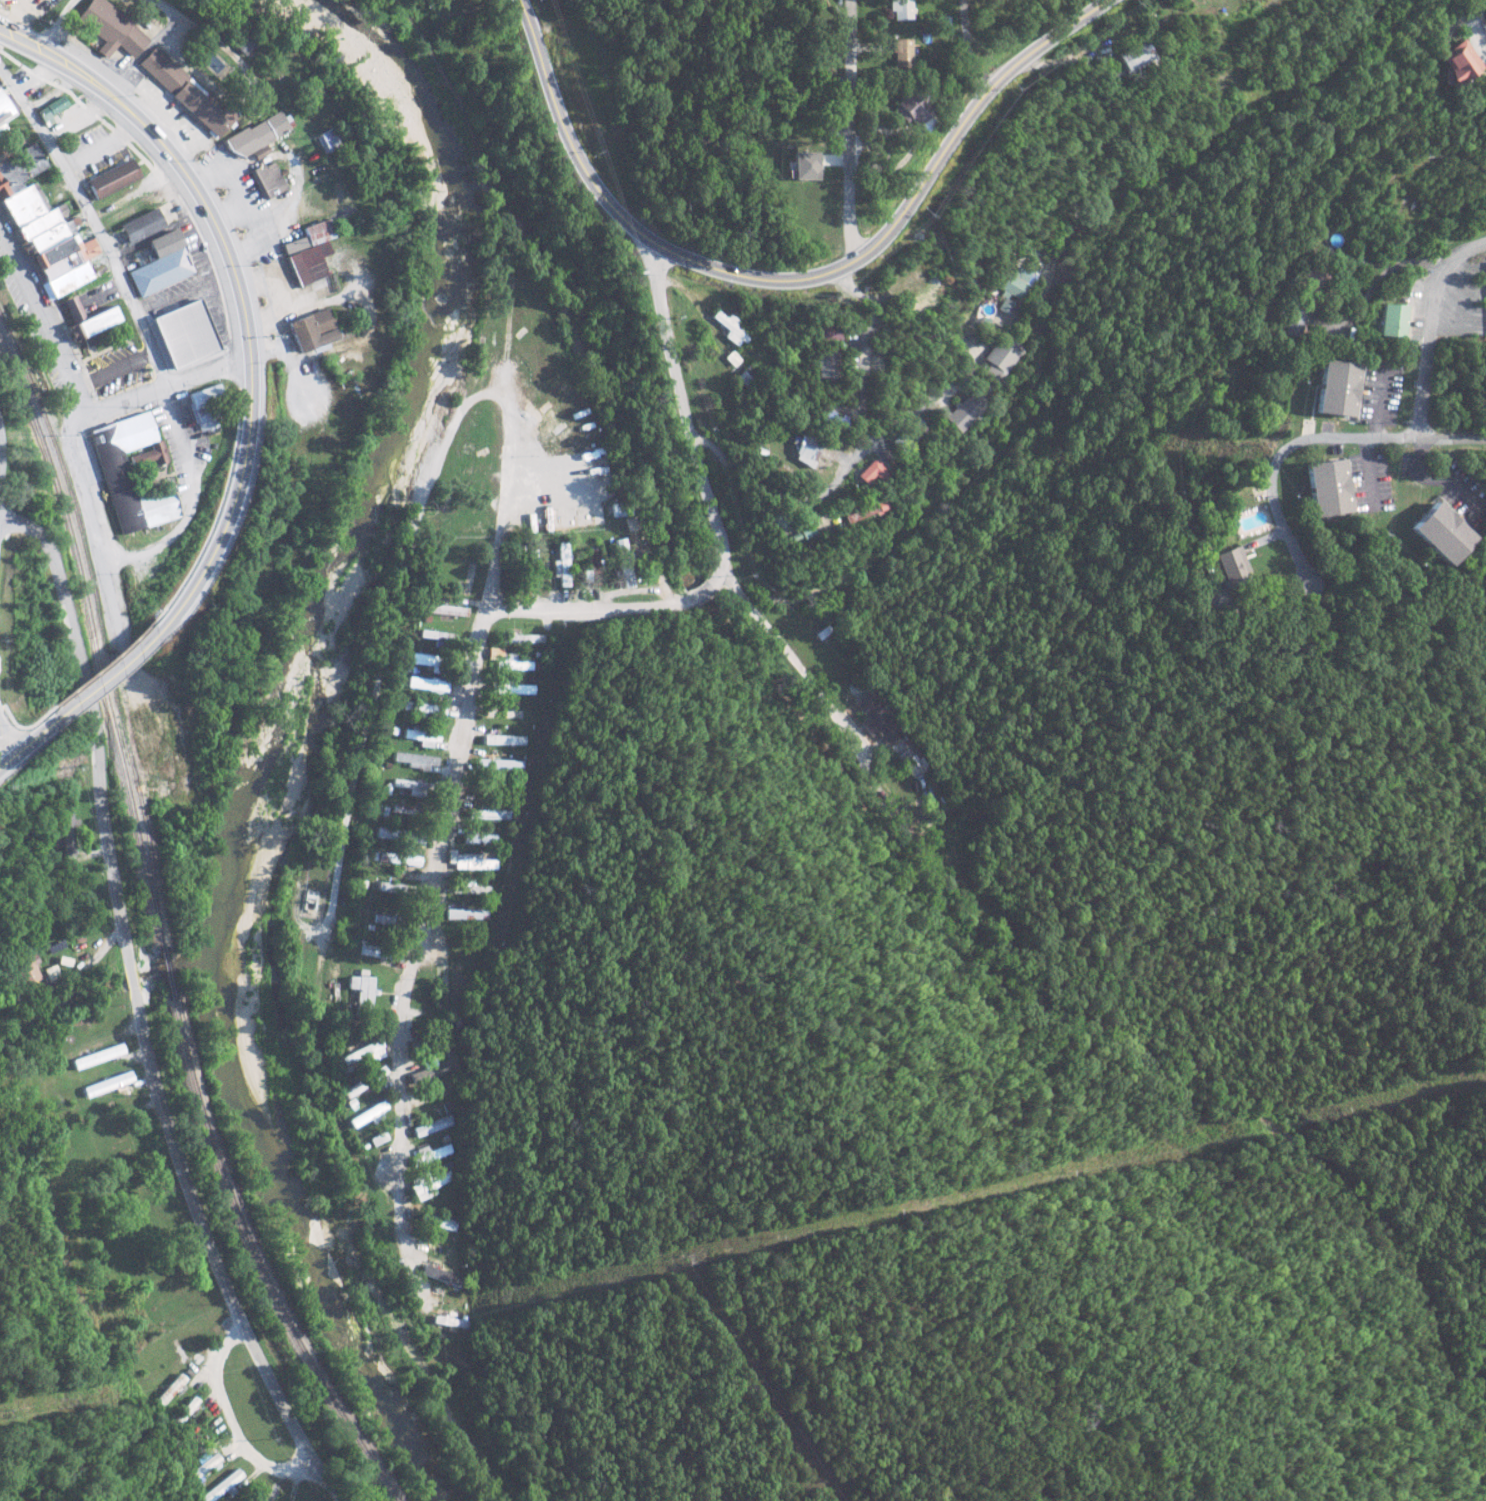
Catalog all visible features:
building: (902, 9)
road: (1474, 16)
building: (109, 27)
building: (242, 44)
road: (970, 45)
building: (902, 53)
building: (1133, 56)
building: (1459, 60)
building: (184, 92)
building: (7, 106)
building: (51, 107)
building: (912, 107)
road: (126, 129)
road: (853, 131)
building: (255, 135)
building: (327, 139)
road: (91, 152)
parking lot: (93, 154)
building: (806, 164)
building: (110, 179)
building: (267, 179)
building: (41, 218)
road: (96, 226)
building: (141, 226)
building: (165, 241)
building: (308, 252)
building: (142, 255)
building: (159, 272)
building: (1311, 277)
road: (791, 280)
building: (1015, 281)
road: (238, 290)
road: (42, 313)
building: (86, 317)
building: (1393, 319)
building: (1292, 322)
building: (731, 327)
road: (1431, 327)
building: (312, 329)
building: (828, 331)
building: (185, 333)
building: (994, 359)
building: (826, 363)
parking lot: (115, 368)
road: (114, 369)
road: (161, 387)
building: (1338, 387)
road: (1378, 403)
building: (204, 406)
building: (960, 411)
road: (4, 425)
road: (1313, 436)
road: (185, 438)
building: (900, 441)
building: (805, 451)
road: (1368, 469)
building: (867, 472)
building: (111, 476)
road: (9, 478)
building: (1329, 487)
road: (510, 495)
building: (620, 509)
building: (861, 511)
building: (772, 518)
building: (1443, 532)
road: (165, 539)
road: (93, 542)
building: (623, 562)
building: (1232, 564)
building: (560, 565)
building: (590, 567)
road: (388, 636)
building: (438, 638)
building: (521, 638)
railway: (95, 641)
road: (788, 654)
road: (474, 658)
building: (425, 660)
building: (506, 660)
road: (104, 676)
building: (428, 685)
building: (511, 688)
building: (424, 710)
river: (270, 716)
building: (876, 719)
building: (422, 737)
building: (504, 740)
road: (26, 744)
building: (148, 747)
road: (1, 754)
building: (415, 760)
building: (913, 764)
building: (408, 787)
building: (405, 809)
building: (489, 814)
building: (69, 833)
building: (399, 836)
building: (481, 838)
building: (399, 859)
building: (472, 861)
building: (396, 888)
building: (472, 888)
building: (468, 914)
building: (387, 920)
building: (381, 953)
road: (89, 963)
building: (26, 967)
railway: (167, 977)
building: (456, 985)
building: (362, 991)
road: (138, 1013)
building: (364, 1053)
building: (98, 1056)
building: (365, 1083)
building: (109, 1084)
building: (366, 1114)
building: (433, 1126)
building: (432, 1153)
building: (428, 1184)
building: (437, 1221)
railway: (257, 1263)
building: (441, 1275)
building: (171, 1391)
building: (185, 1413)
road: (233, 1426)
building: (207, 1465)
building: (223, 1486)

